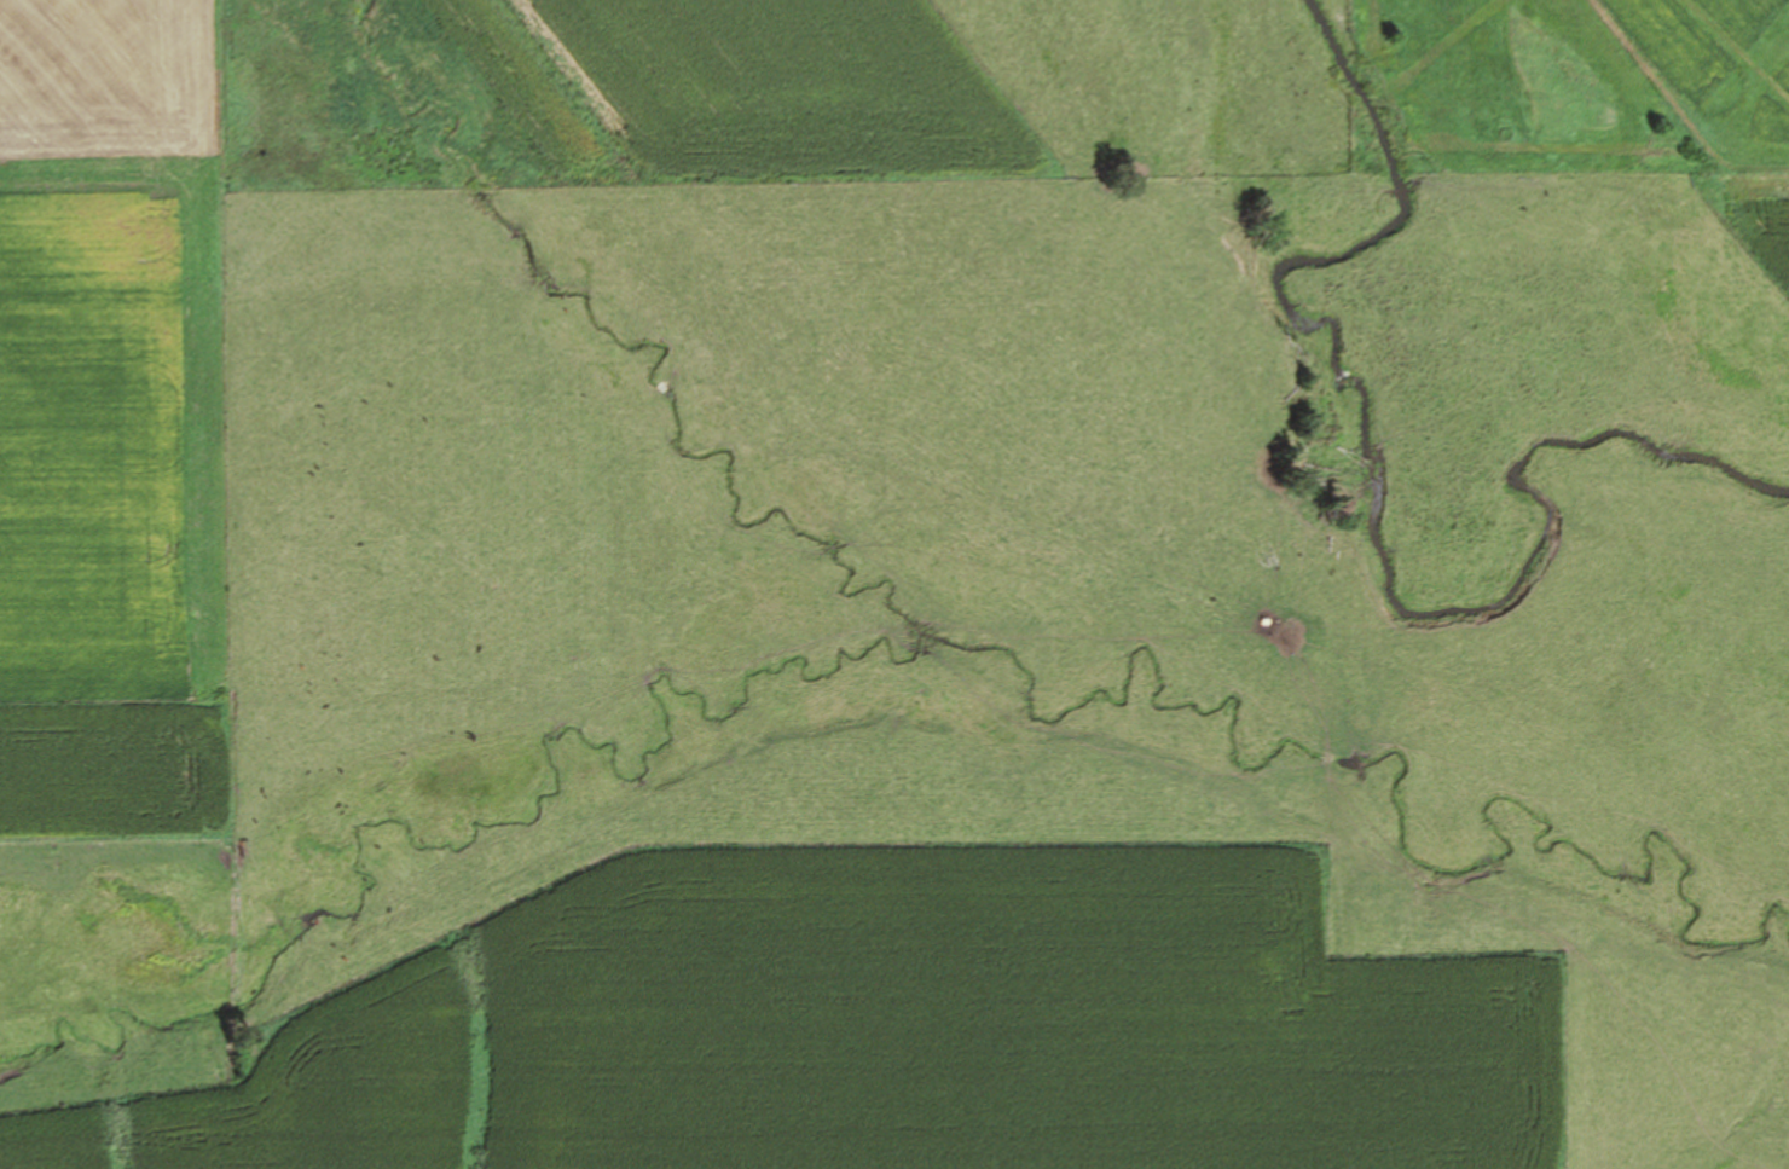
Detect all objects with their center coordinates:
river: (1368, 510)

